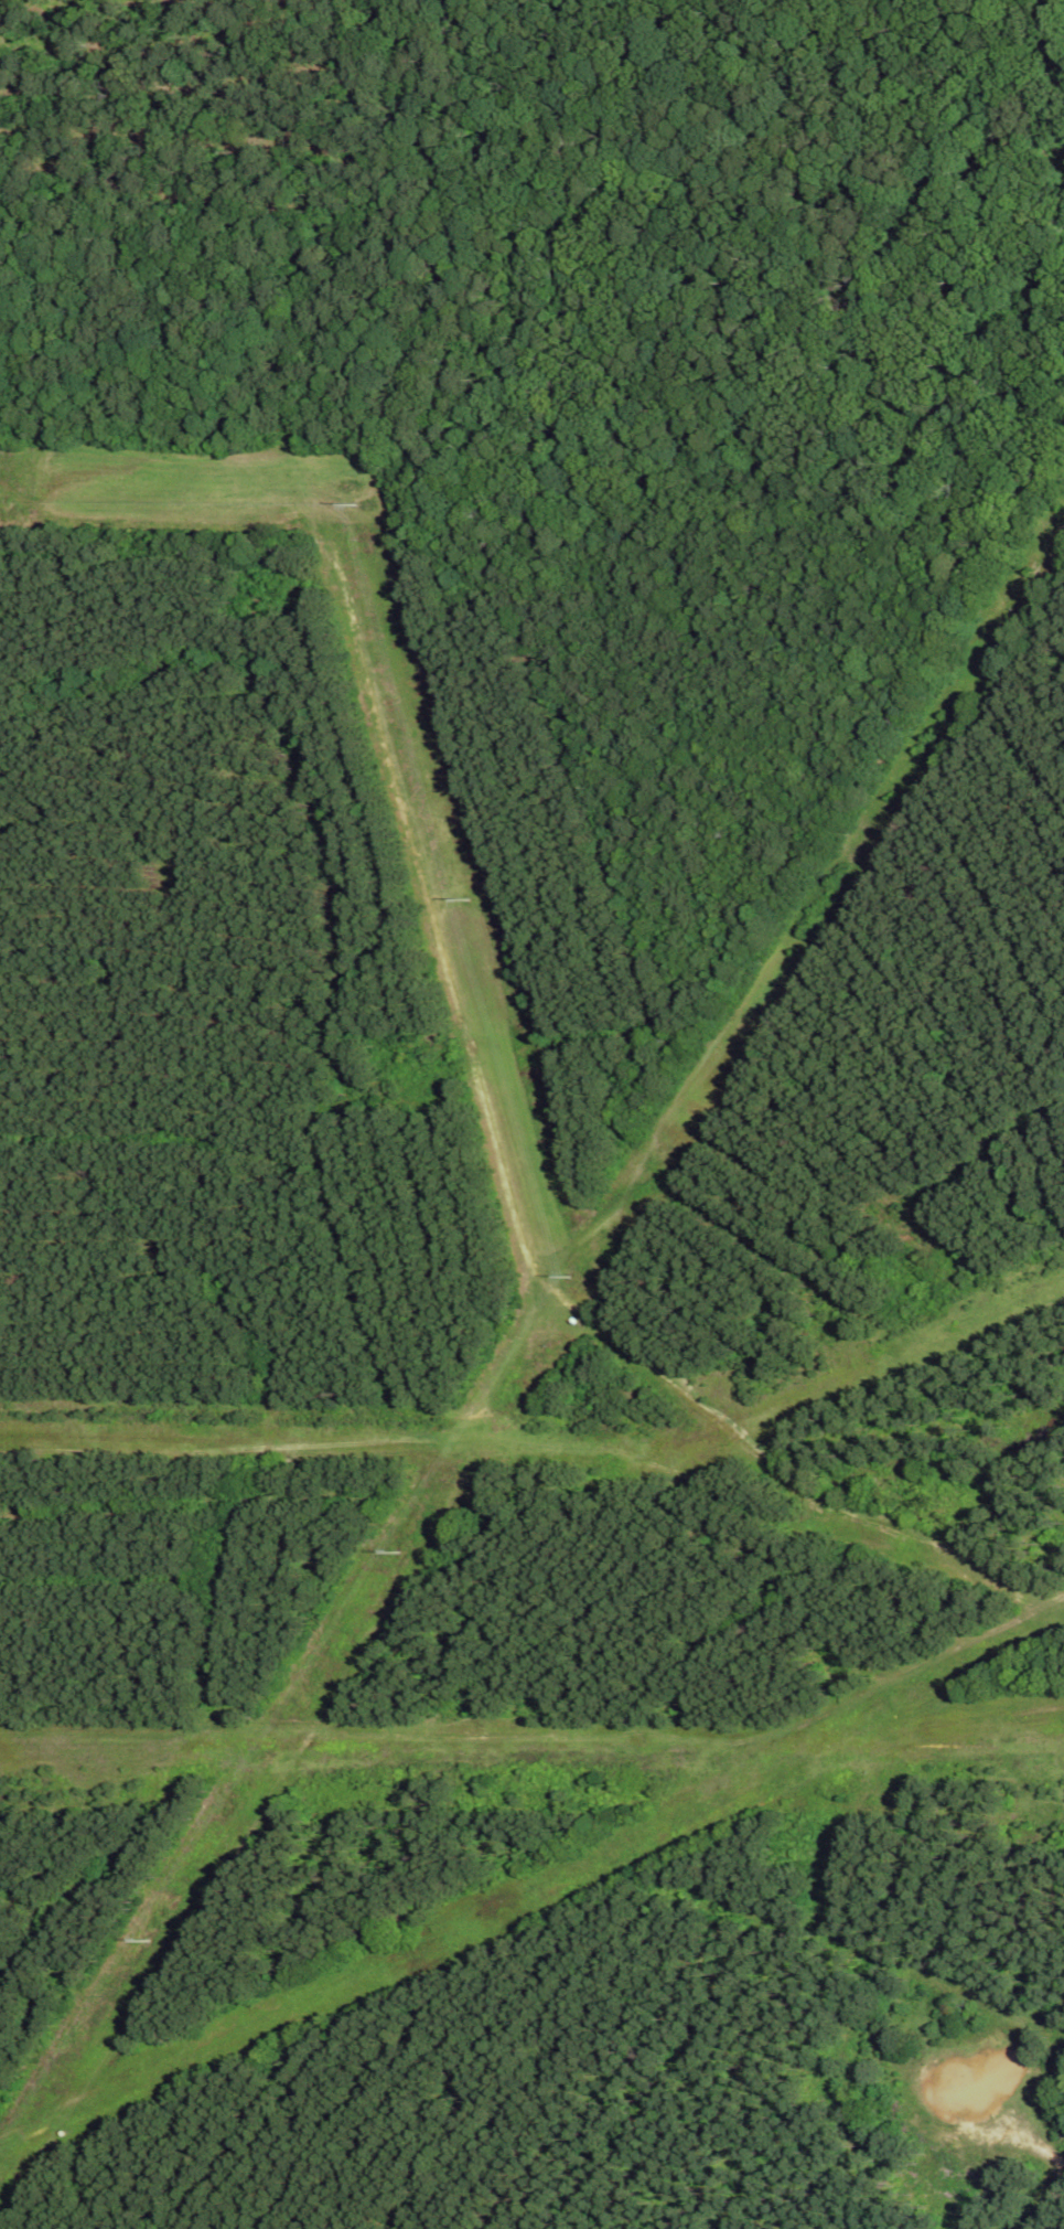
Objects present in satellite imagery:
road: (1030, 2177)

